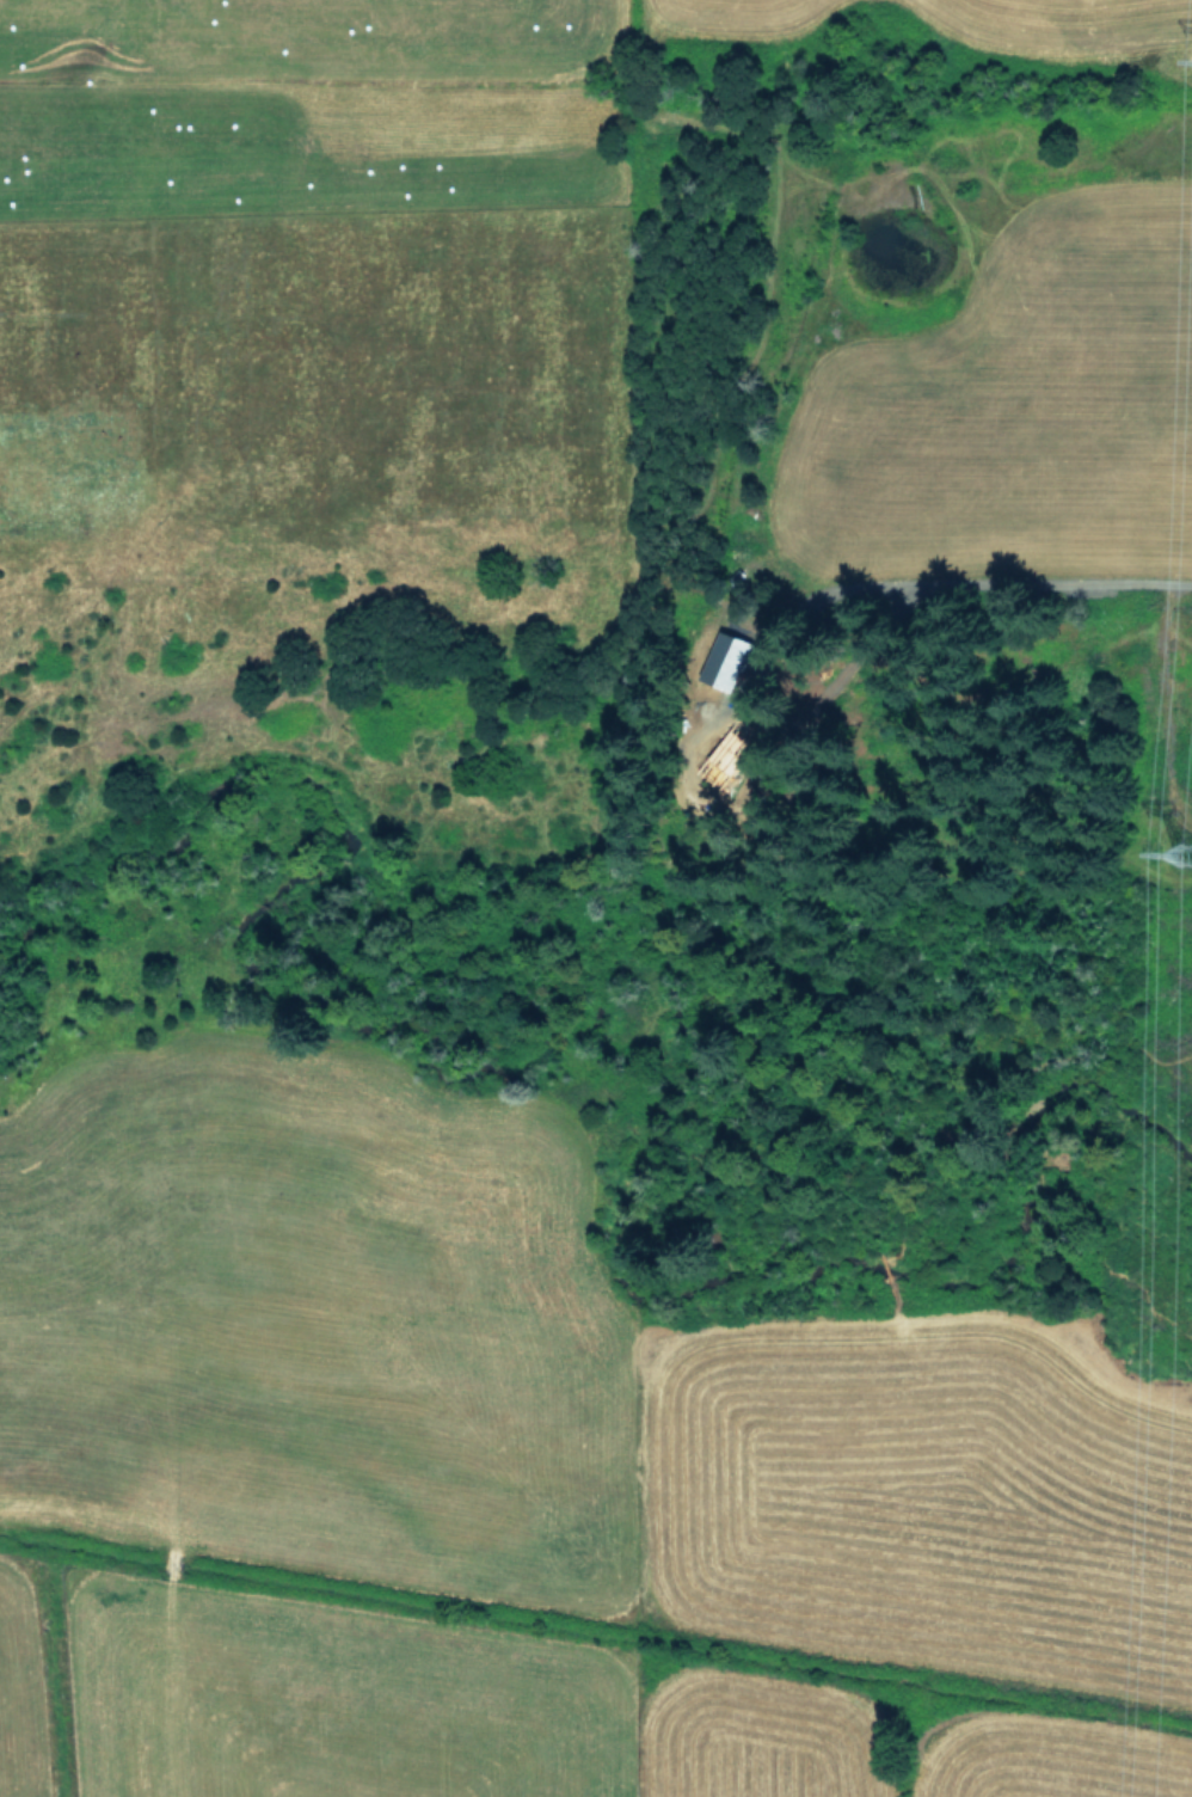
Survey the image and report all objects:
road: (981, 579)
power tower: (1191, 870)
crop: (528, 1490)

